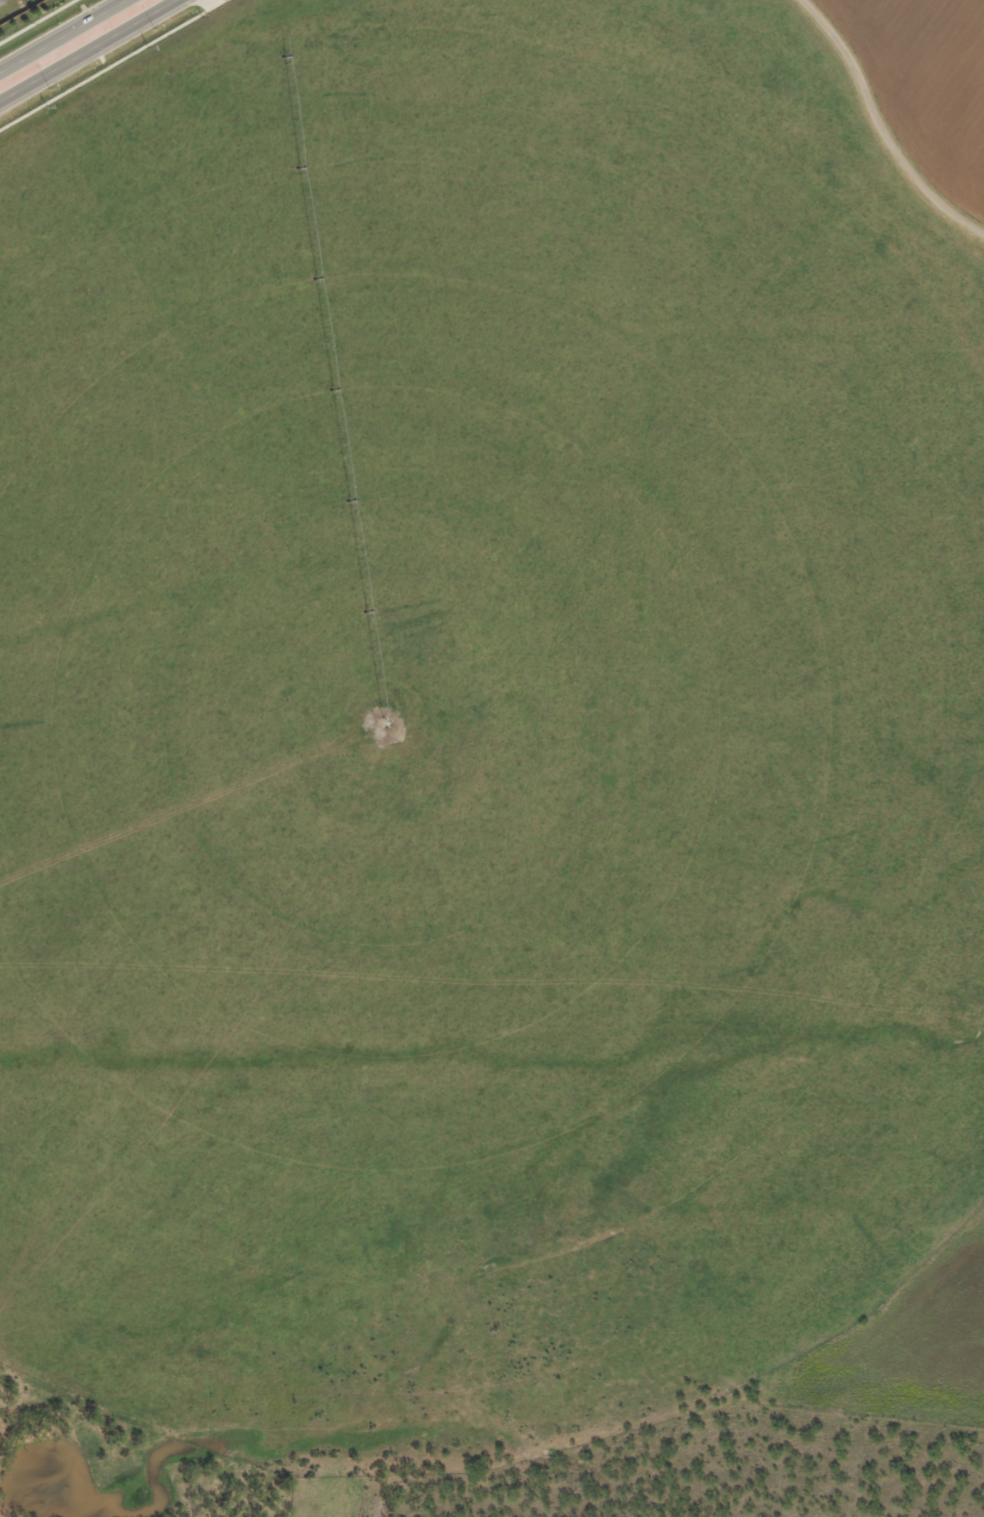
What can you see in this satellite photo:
building: (1, 2)
road: (214, 2)
road: (37, 21)
road: (61, 35)
road: (86, 49)
road: (112, 64)
road: (882, 125)

